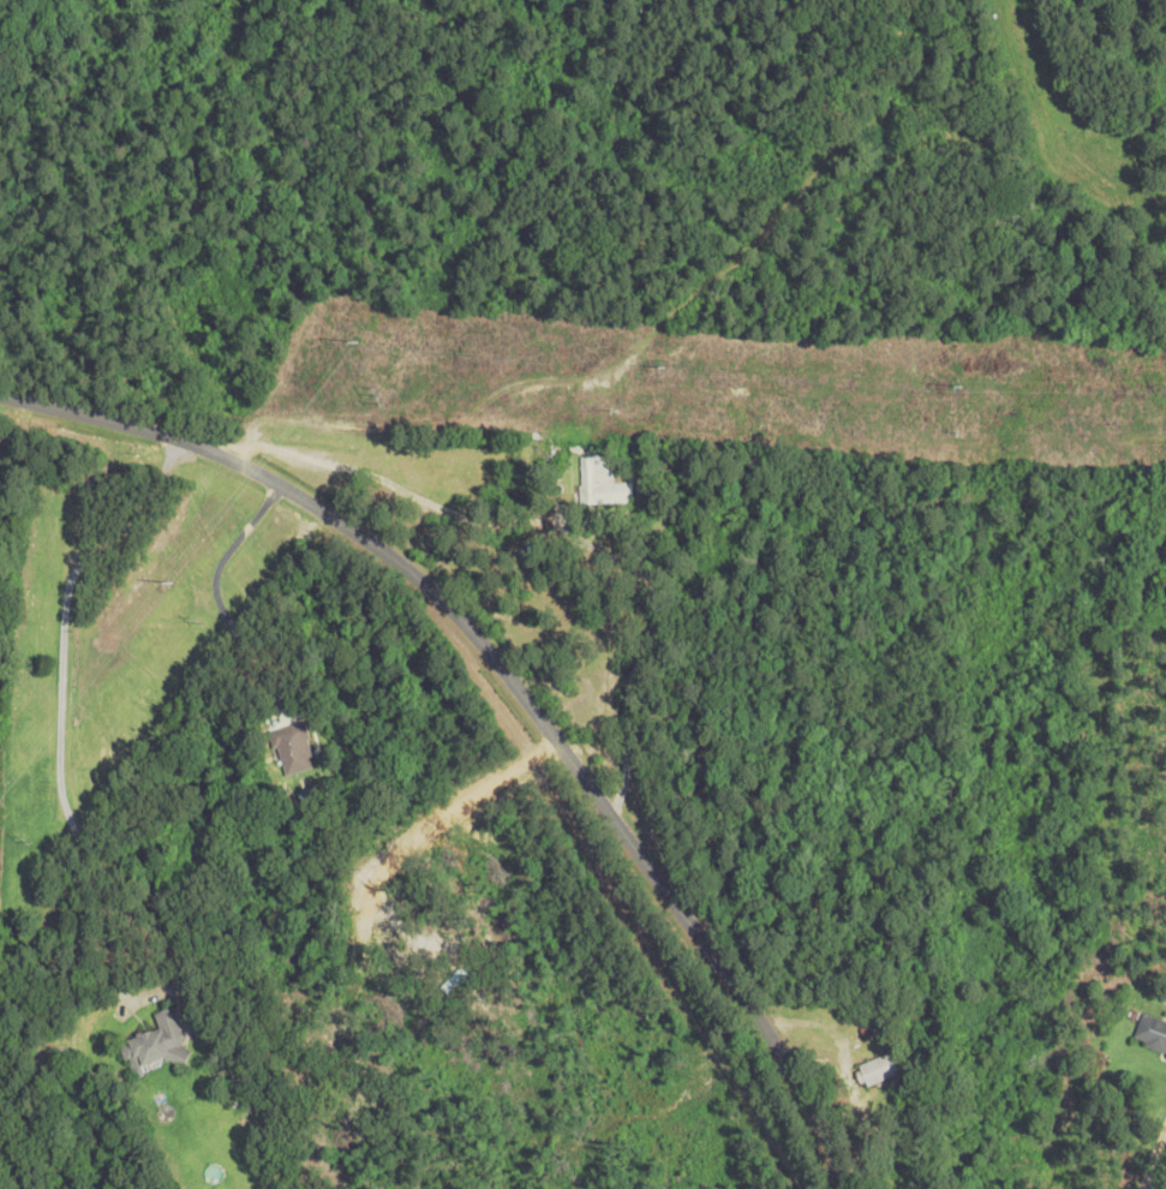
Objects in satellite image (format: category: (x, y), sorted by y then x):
building: (604, 483)
road: (515, 685)
road: (61, 697)
building: (1152, 1033)
building: (156, 1046)
building: (880, 1069)
road: (1154, 1160)

